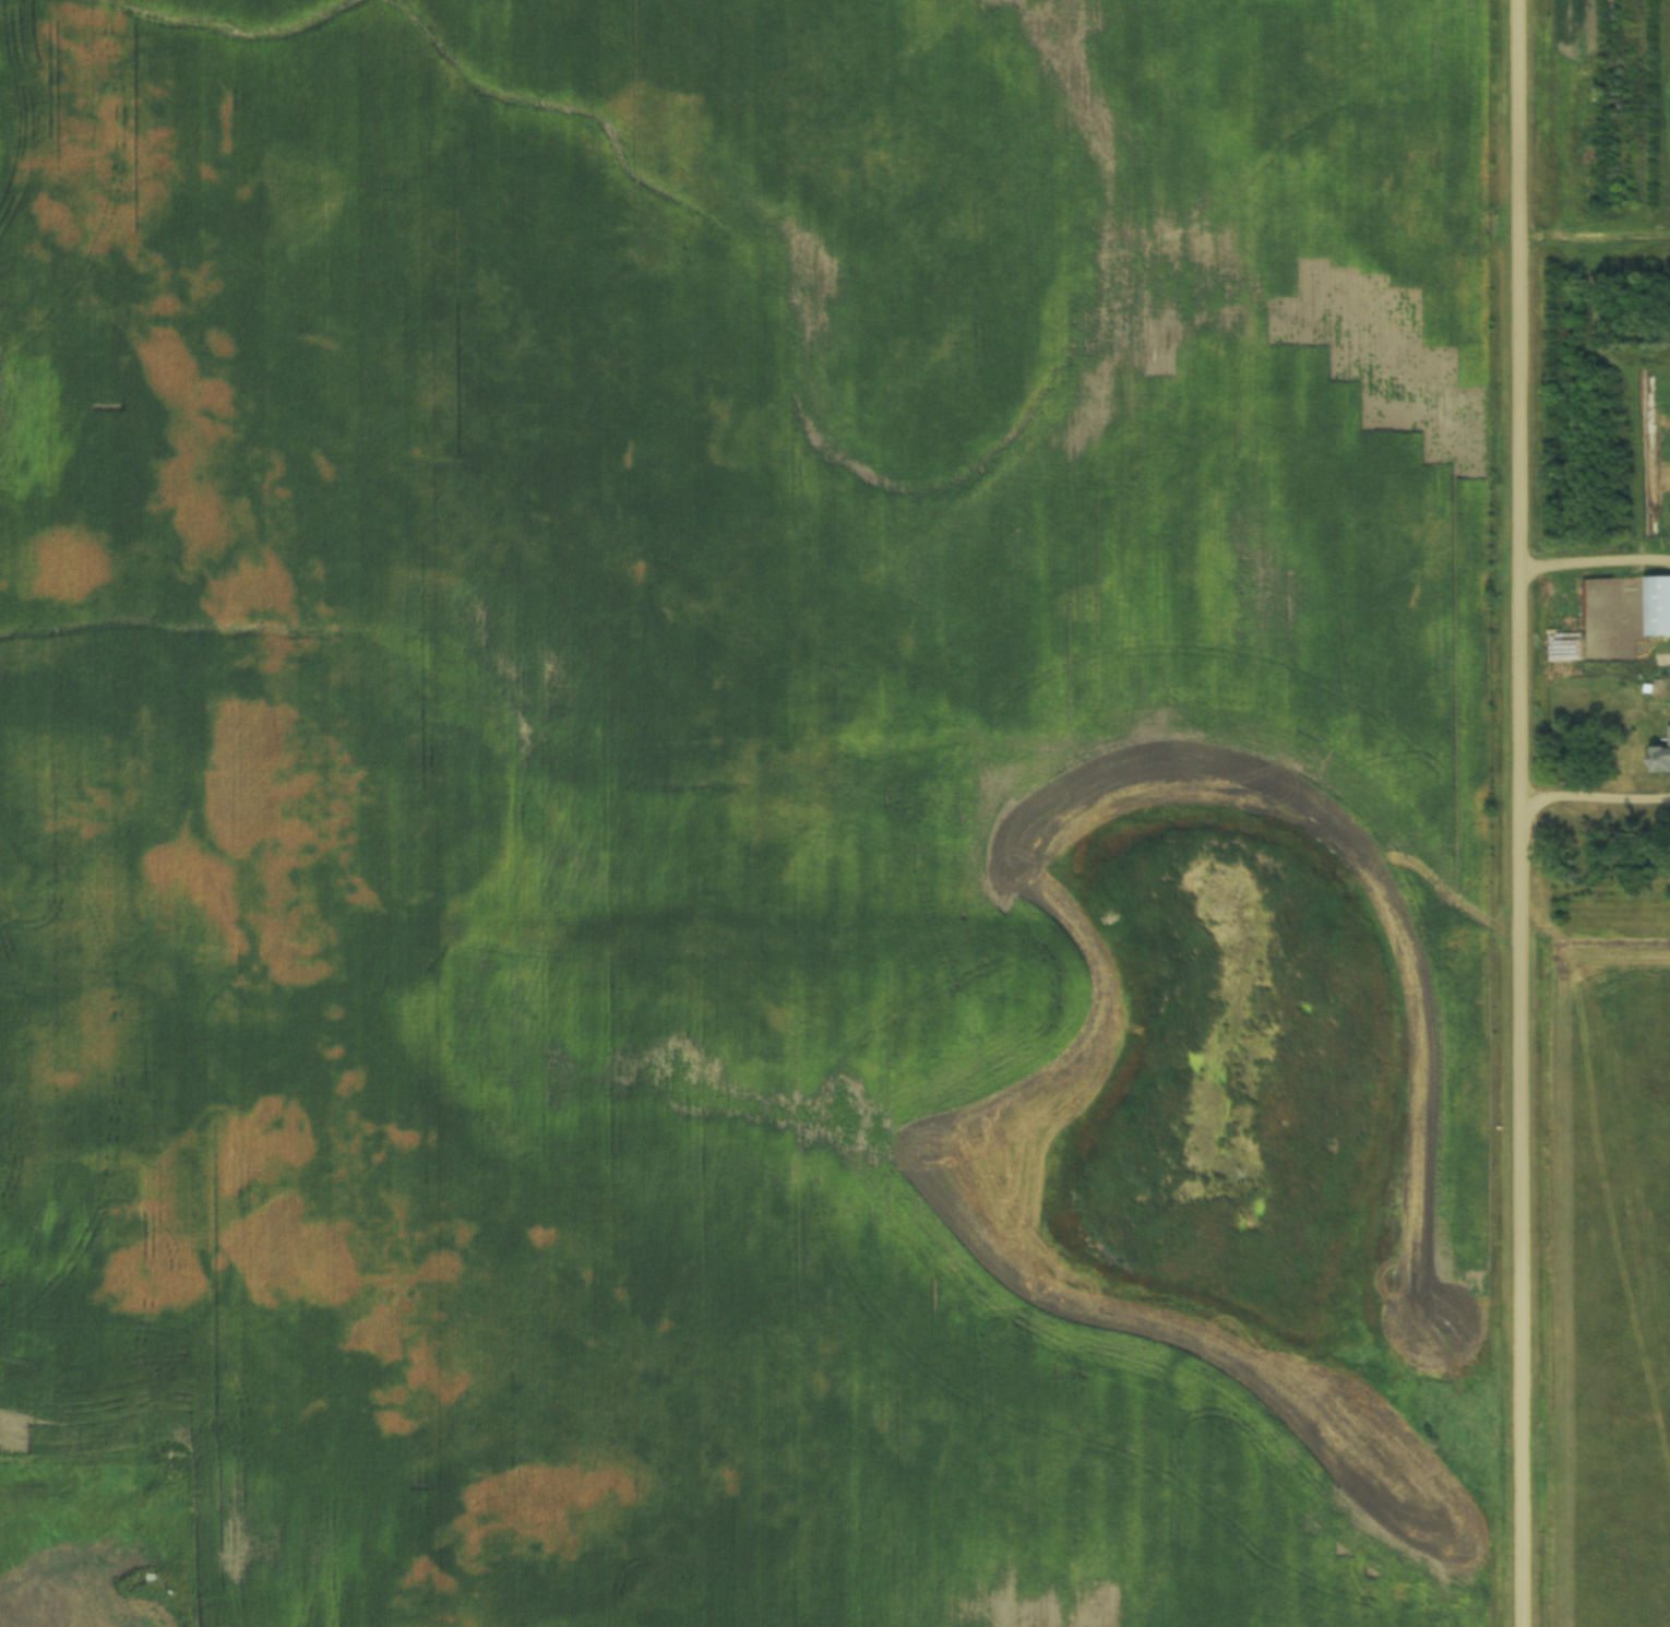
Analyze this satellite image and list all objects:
road: (1596, 560)
building: (1657, 606)
building: (1660, 759)
road: (1597, 797)
road: (1525, 812)

